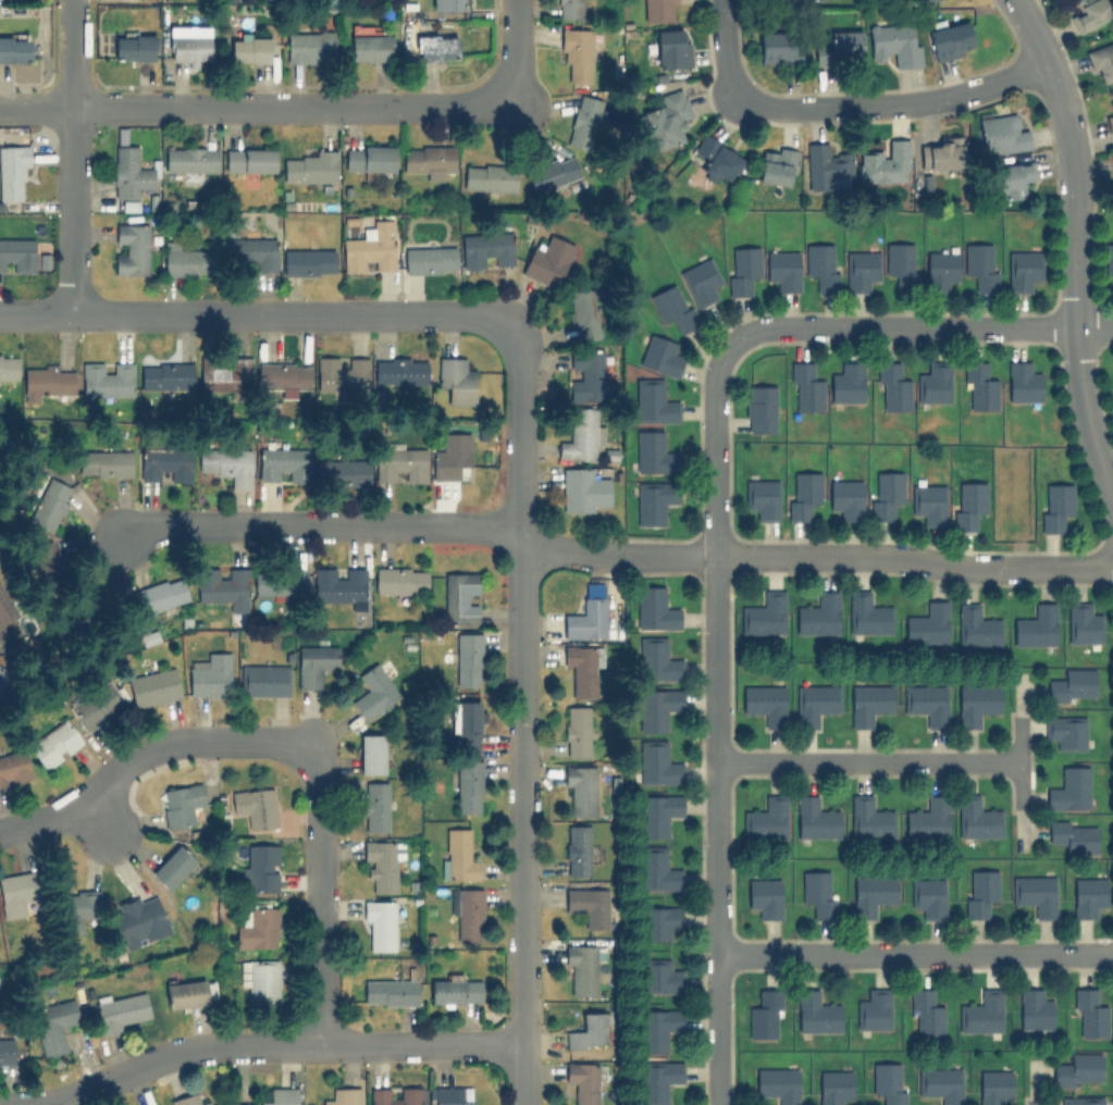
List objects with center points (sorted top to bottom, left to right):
building: (129, 0)
building: (450, 4)
building: (568, 9)
building: (658, 9)
building: (1088, 13)
building: (950, 39)
building: (894, 42)
building: (189, 44)
building: (435, 45)
building: (310, 46)
building: (133, 47)
building: (250, 47)
building: (371, 47)
building: (776, 47)
building: (672, 48)
road: (728, 48)
building: (839, 48)
building: (15, 49)
road: (516, 49)
building: (577, 52)
road: (71, 54)
building: (1101, 61)
road: (895, 103)
building: (1112, 104)
road: (249, 108)
building: (668, 119)
building: (584, 122)
building: (1109, 122)
building: (1002, 133)
building: (941, 153)
building: (369, 157)
building: (190, 159)
building: (249, 159)
building: (716, 159)
building: (429, 160)
building: (885, 162)
building: (776, 165)
building: (309, 167)
building: (827, 167)
building: (13, 172)
building: (129, 172)
building: (553, 173)
building: (1112, 176)
building: (490, 177)
building: (1013, 178)
road: (71, 212)
building: (370, 248)
building: (132, 249)
building: (486, 249)
building: (252, 251)
road: (1073, 251)
building: (18, 253)
building: (184, 257)
building: (547, 258)
building: (430, 259)
building: (1109, 260)
building: (308, 261)
building: (901, 264)
building: (821, 265)
building: (980, 265)
building: (742, 269)
building: (783, 269)
building: (861, 269)
building: (940, 270)
building: (1022, 270)
building: (700, 280)
building: (673, 307)
building: (583, 313)
road: (251, 315)
road: (920, 325)
building: (660, 355)
building: (9, 367)
building: (399, 371)
building: (341, 373)
building: (284, 374)
building: (585, 374)
building: (164, 375)
building: (225, 375)
building: (107, 380)
building: (456, 380)
building: (47, 382)
building: (933, 382)
building: (1022, 382)
building: (846, 383)
building: (979, 386)
building: (805, 387)
building: (892, 387)
building: (653, 400)
building: (760, 408)
building: (579, 435)
building: (655, 452)
building: (453, 454)
building: (159, 461)
building: (107, 462)
building: (283, 462)
building: (399, 462)
building: (236, 467)
building: (345, 472)
building: (583, 489)
building: (803, 494)
building: (885, 494)
building: (762, 498)
building: (846, 498)
building: (654, 500)
building: (928, 502)
building: (967, 502)
building: (50, 505)
building: (1054, 506)
road: (321, 527)
road: (570, 546)
building: (45, 551)
road: (865, 556)
building: (54, 564)
building: (400, 580)
building: (280, 581)
building: (341, 585)
building: (224, 586)
building: (593, 588)
building: (163, 593)
building: (460, 597)
building: (99, 605)
building: (5, 607)
building: (655, 608)
building: (763, 613)
building: (867, 613)
building: (817, 614)
building: (585, 619)
building: (926, 623)
building: (1083, 623)
building: (1035, 625)
building: (976, 626)
building: (468, 659)
building: (657, 659)
building: (314, 663)
building: (583, 668)
building: (210, 674)
building: (2, 675)
building: (264, 680)
building: (1072, 685)
building: (153, 686)
building: (375, 688)
building: (765, 703)
building: (815, 703)
building: (927, 703)
building: (976, 703)
building: (868, 704)
building: (97, 706)
building: (656, 708)
road: (522, 713)
road: (716, 721)
building: (466, 724)
building: (577, 730)
building: (1066, 731)
building: (55, 743)
road: (140, 752)
building: (372, 754)
road: (1018, 757)
road: (867, 761)
building: (657, 762)
building: (13, 767)
building: (469, 786)
building: (580, 789)
building: (1069, 790)
building: (185, 800)
building: (256, 806)
building: (375, 806)
building: (657, 812)
road: (99, 817)
building: (869, 817)
building: (977, 817)
building: (815, 818)
building: (928, 818)
building: (765, 819)
building: (1073, 835)
building: (578, 849)
building: (458, 854)
building: (382, 862)
building: (173, 866)
building: (259, 867)
building: (657, 869)
building: (818, 892)
building: (980, 892)
building: (15, 893)
road: (321, 893)
building: (871, 893)
building: (1035, 894)
building: (927, 895)
building: (764, 896)
building: (1087, 896)
building: (588, 905)
building: (79, 907)
building: (470, 914)
building: (139, 920)
building: (659, 921)
building: (380, 924)
building: (257, 926)
road: (914, 954)
building: (581, 969)
building: (659, 976)
building: (260, 979)
building: (455, 991)
building: (389, 992)
building: (186, 993)
building: (874, 1009)
building: (1034, 1009)
building: (122, 1010)
building: (981, 1011)
building: (816, 1013)
building: (764, 1014)
building: (926, 1014)
building: (1089, 1014)
building: (54, 1025)
building: (658, 1028)
building: (586, 1031)
road: (267, 1043)
building: (5, 1051)
building: (1078, 1070)
building: (658, 1079)
building: (585, 1081)
building: (888, 1082)
building: (777, 1083)
building: (940, 1083)
building: (833, 1087)
building: (993, 1087)
building: (410, 1091)
building: (452, 1095)
building: (281, 1096)
building: (344, 1096)
building: (187, 1100)
building: (1081, 1101)

